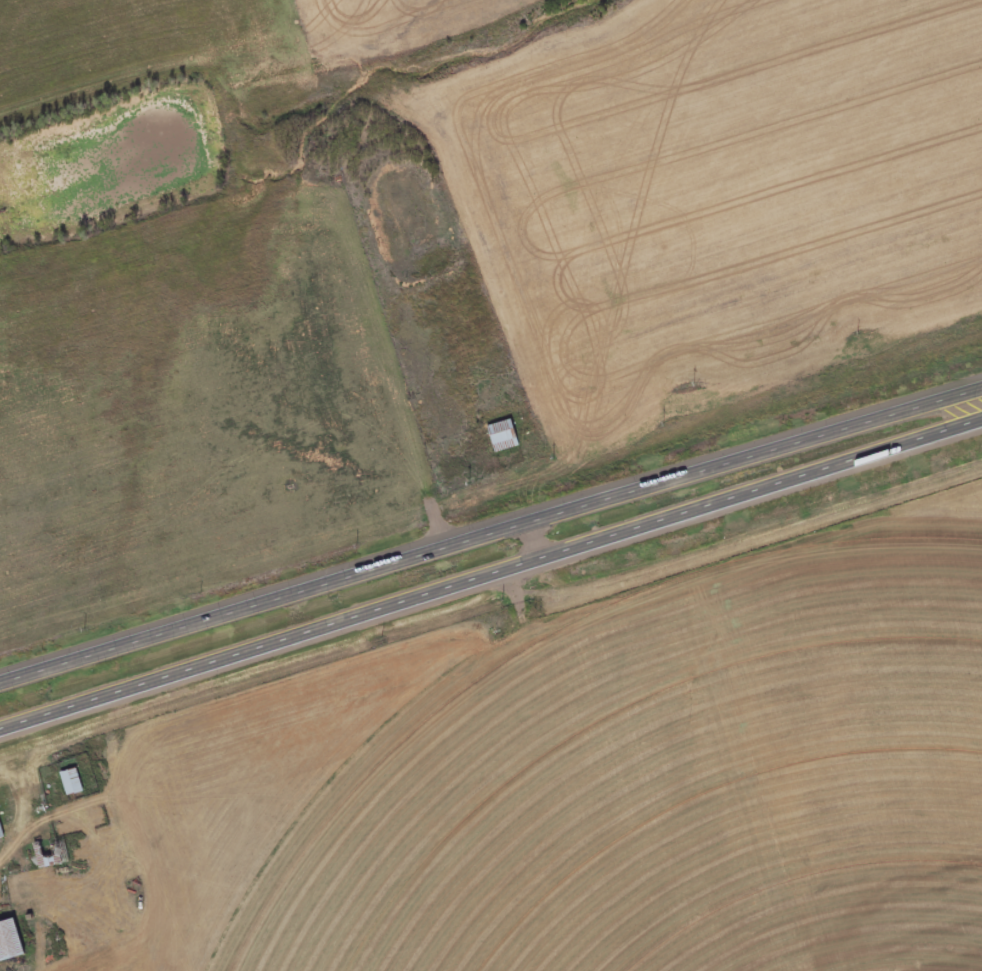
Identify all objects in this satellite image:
building: (508, 437)
road: (491, 534)
road: (491, 582)
building: (75, 784)
building: (2, 829)
building: (55, 856)
building: (13, 942)

